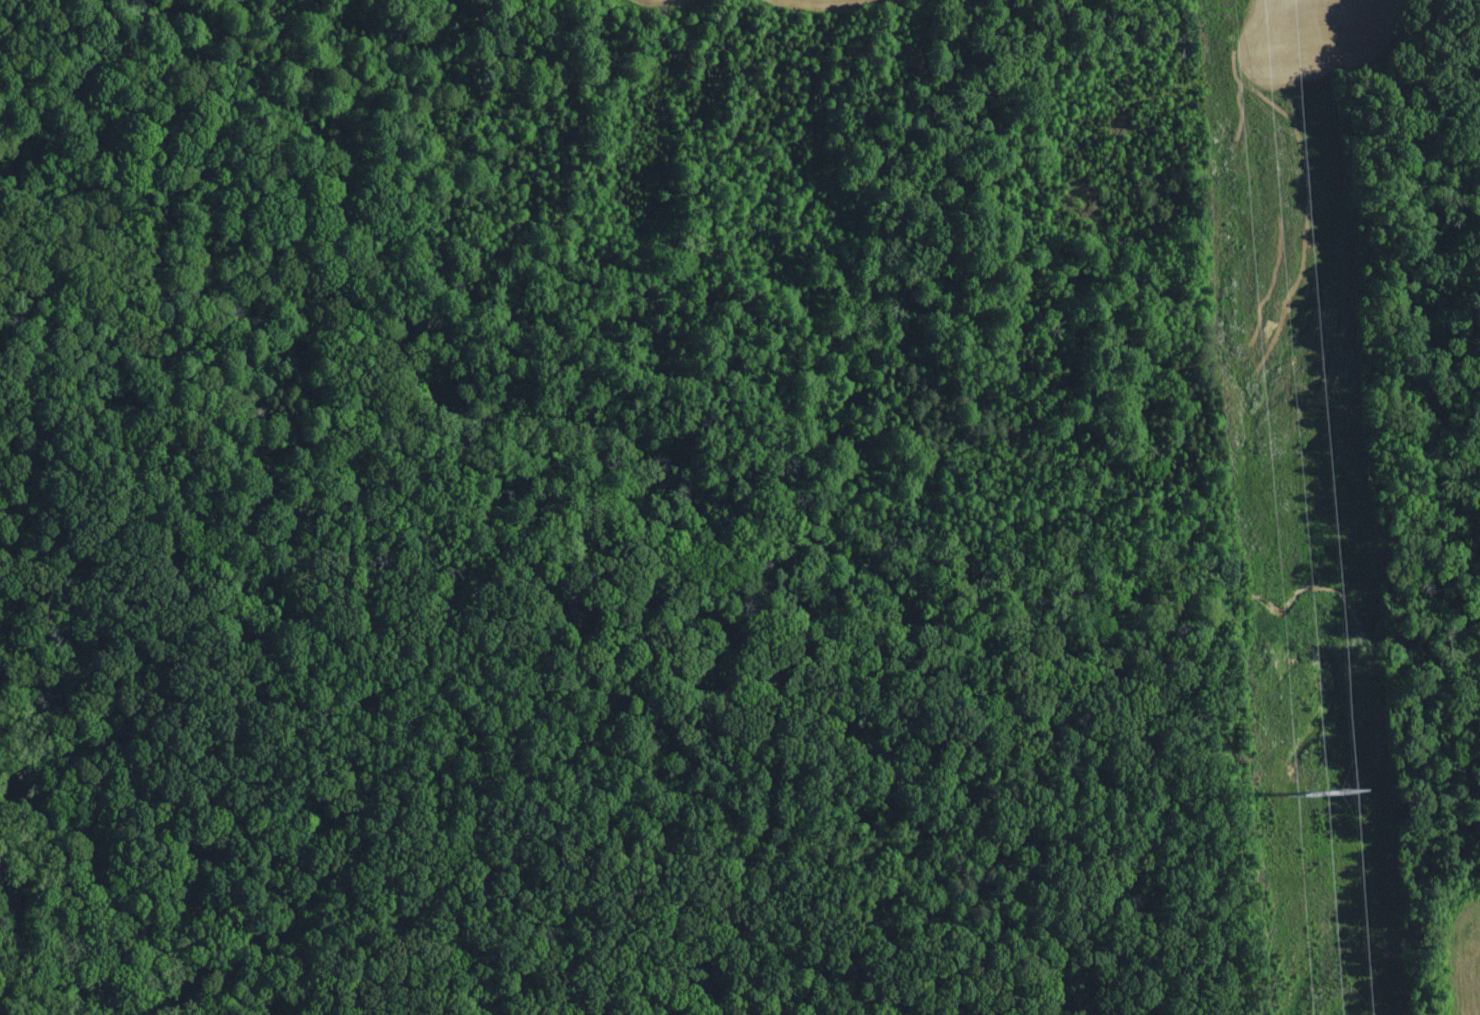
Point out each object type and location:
power tower: (1322, 794)

